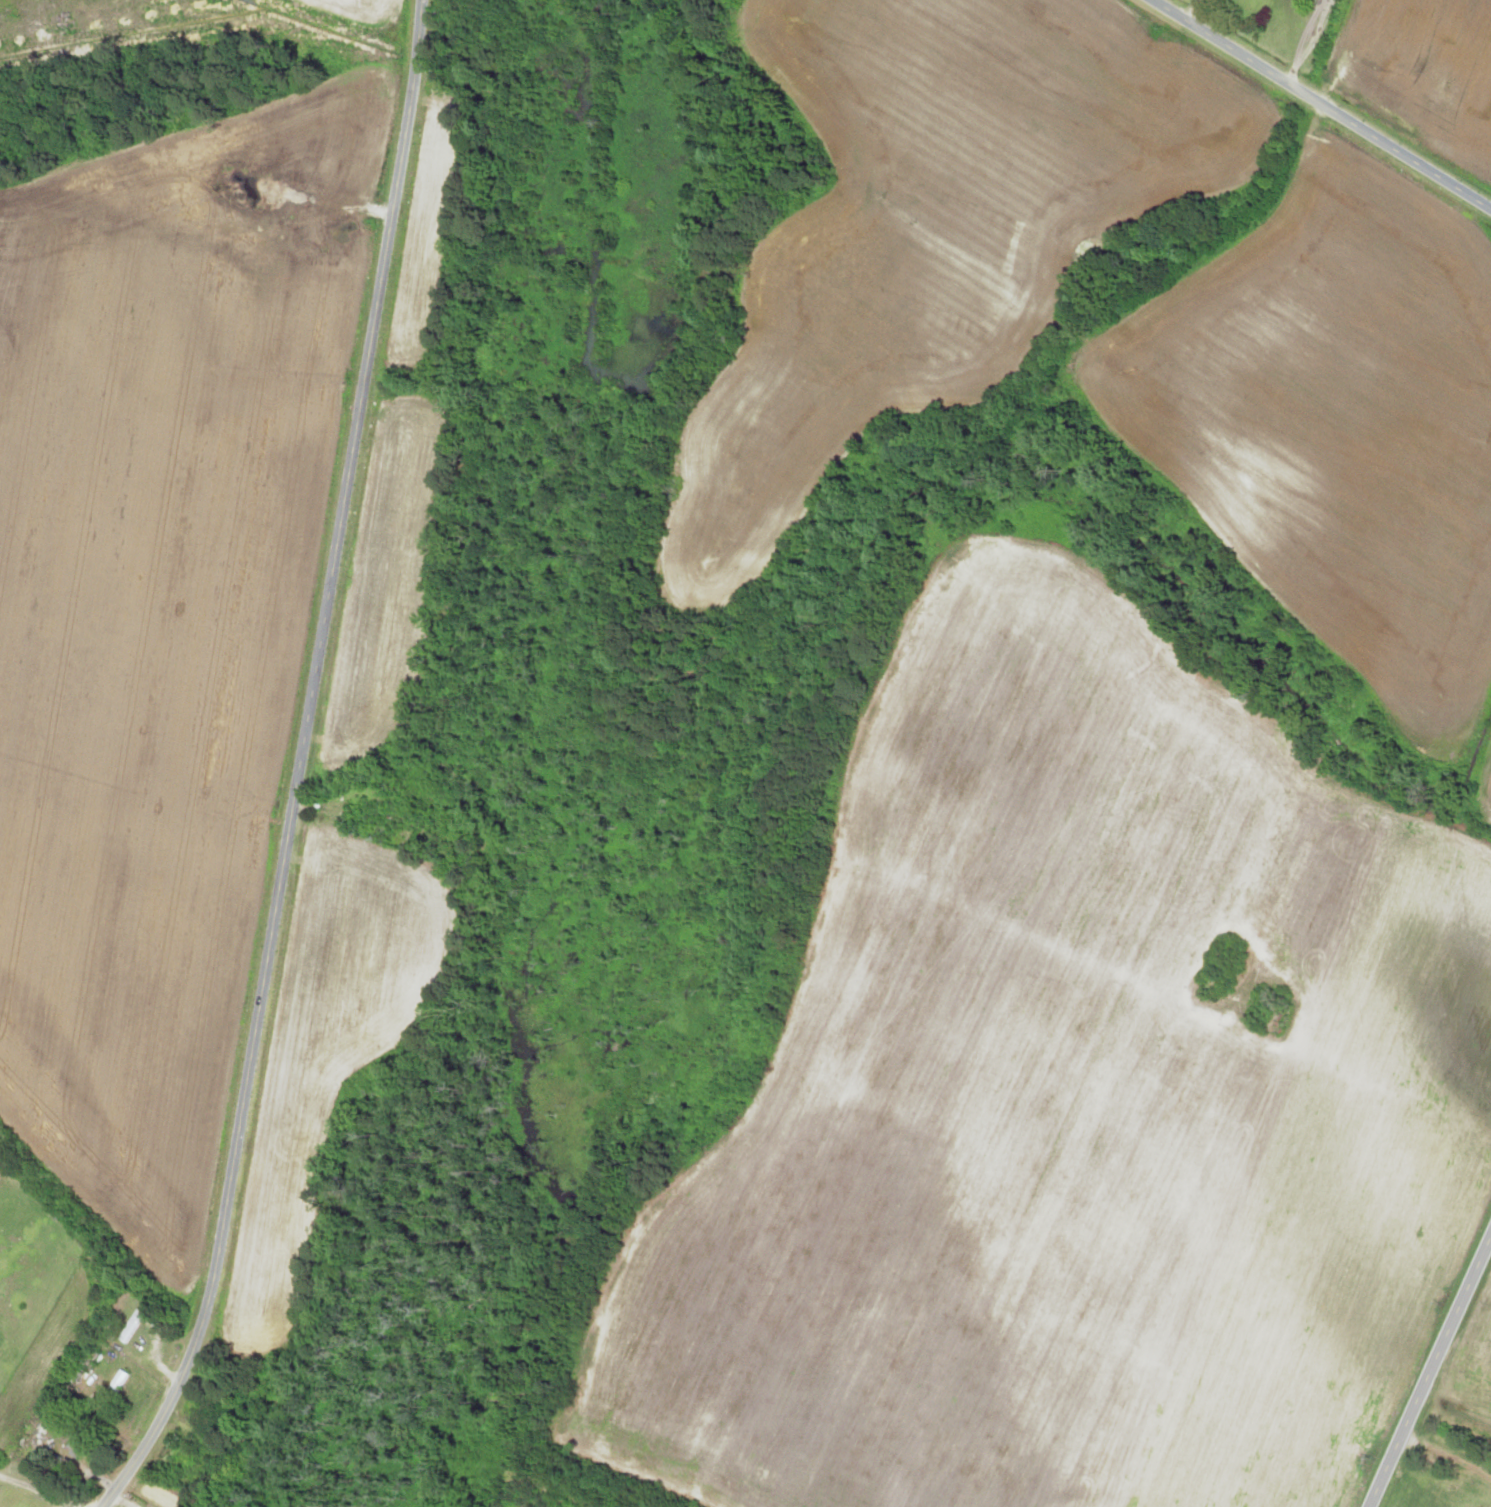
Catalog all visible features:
road: (1193, 10)
road: (1323, 104)
road: (300, 766)
building: (126, 1327)
building: (83, 1361)
road: (1432, 1375)

